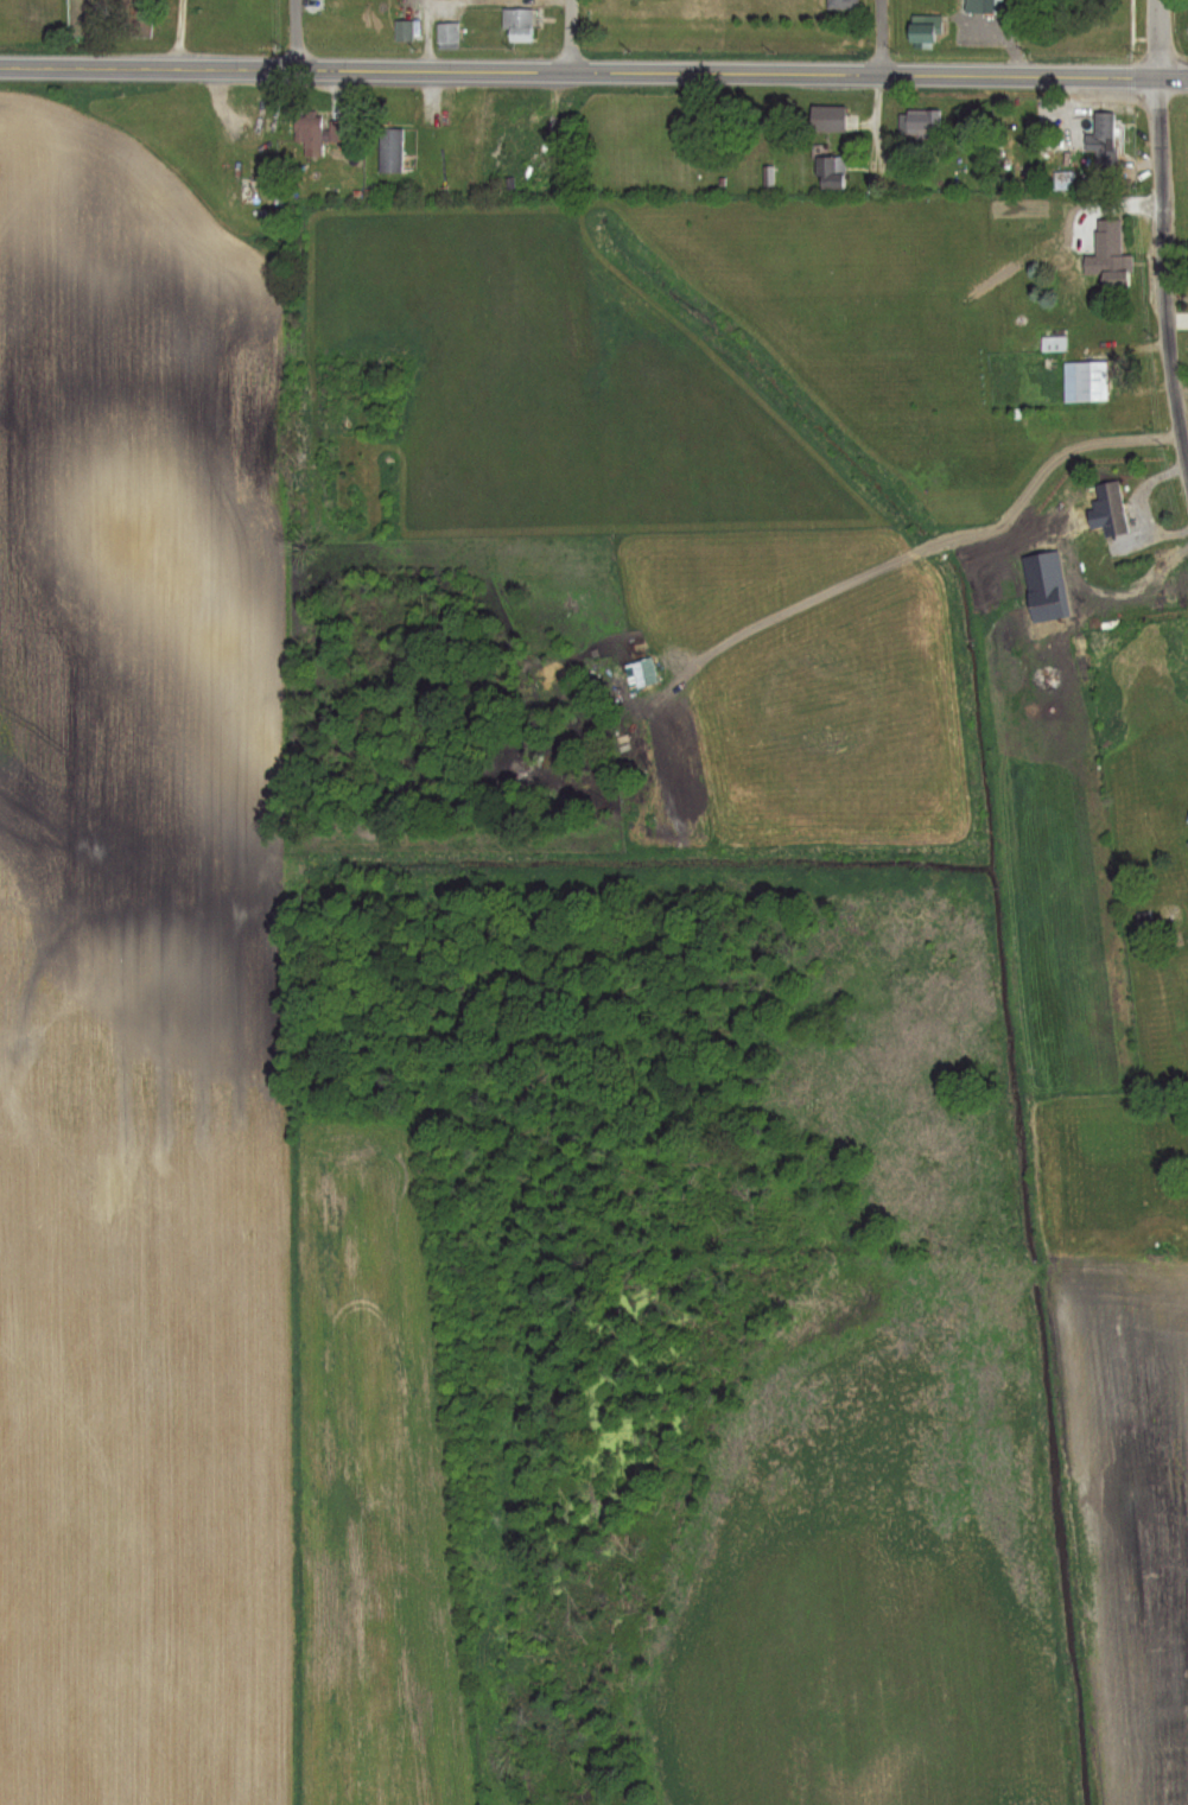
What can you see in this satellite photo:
building: (841, 4)
building: (993, 7)
building: (517, 25)
building: (922, 30)
building: (401, 31)
road: (293, 34)
building: (446, 36)
road: (564, 36)
road: (878, 36)
road: (1160, 38)
road: (40, 69)
road: (634, 71)
building: (514, 112)
building: (827, 119)
building: (919, 123)
building: (316, 133)
building: (1103, 141)
building: (389, 151)
building: (830, 172)
building: (1116, 272)
road: (1164, 284)
building: (1054, 342)
building: (1085, 381)
building: (1108, 508)
building: (1063, 598)
building: (1187, 843)

